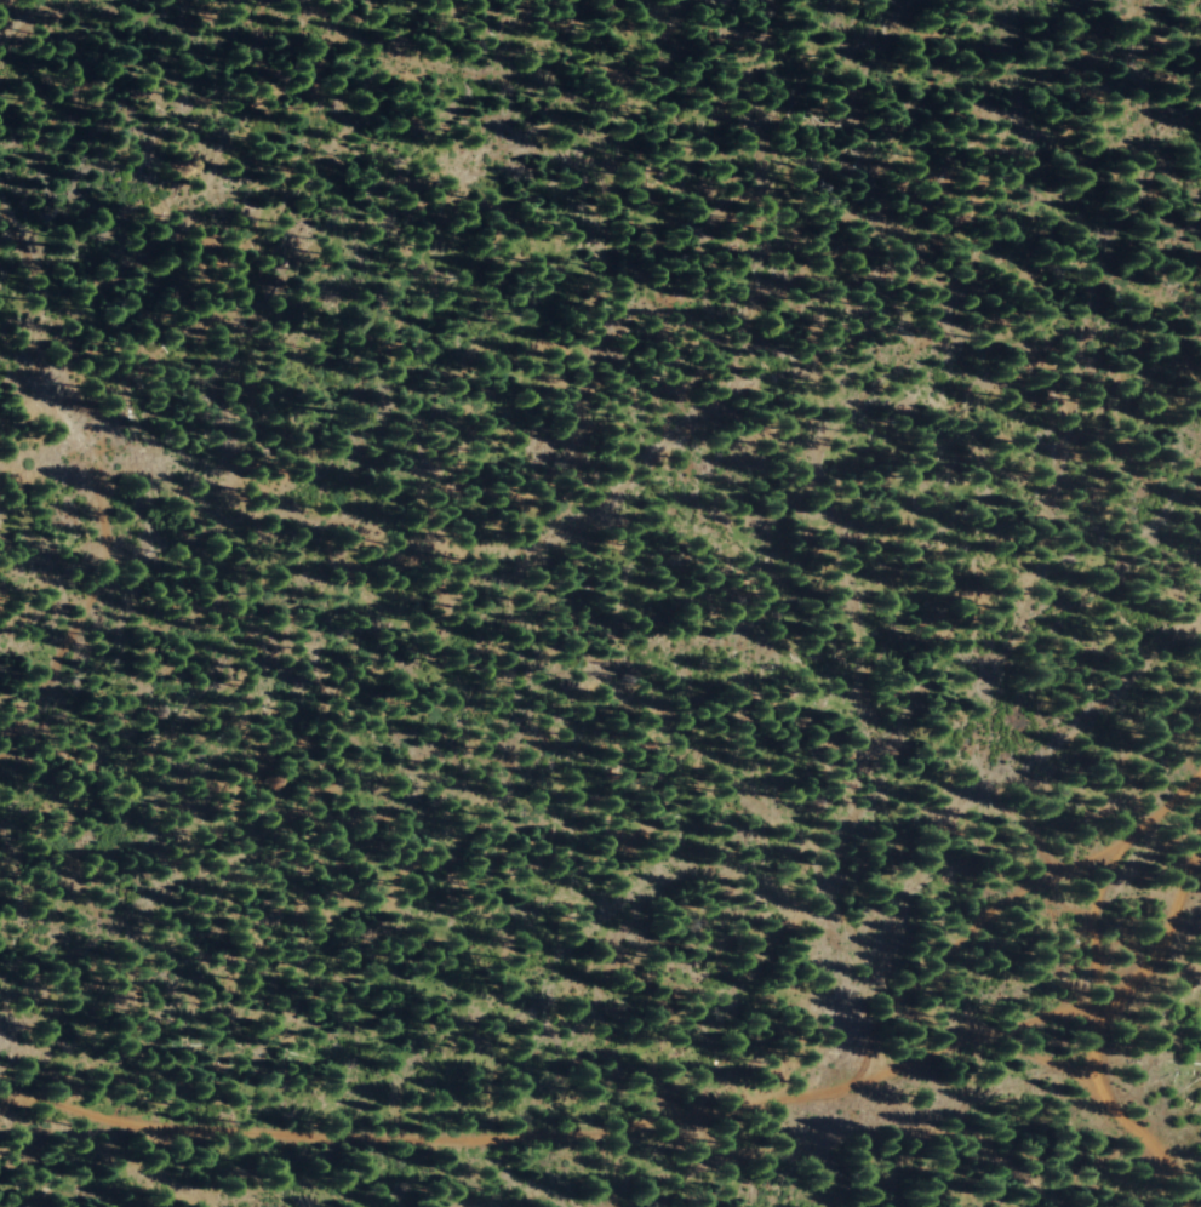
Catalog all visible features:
road: (1086, 983)
road: (600, 1125)

